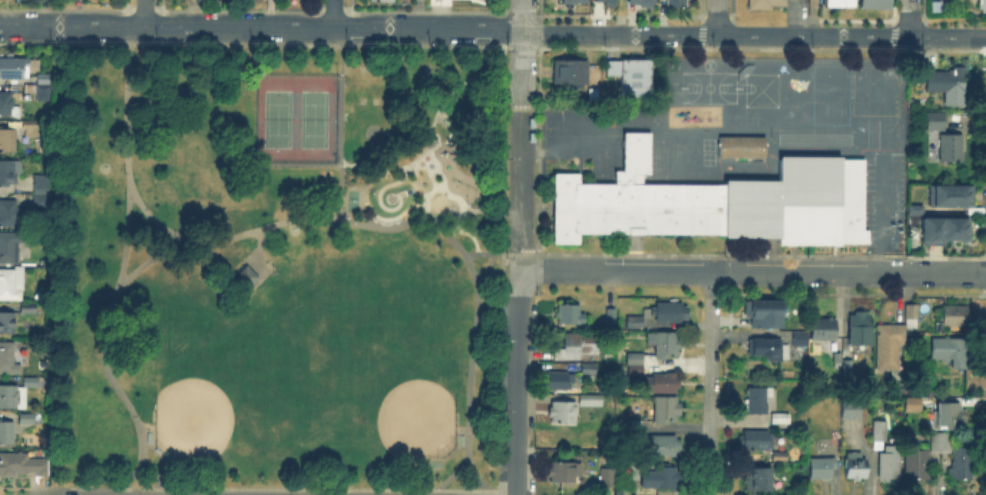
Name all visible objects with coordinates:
building: (575, 2)
building: (605, 2)
building: (641, 2)
building: (835, 2)
building: (872, 2)
building: (677, 3)
building: (766, 4)
building: (983, 7)
road: (145, 13)
road: (334, 14)
road: (523, 16)
road: (621, 17)
road: (717, 18)
road: (814, 18)
road: (910, 18)
road: (358, 28)
road: (765, 36)
road: (861, 37)
road: (948, 37)
building: (16, 68)
road: (522, 71)
building: (571, 73)
building: (637, 79)
building: (946, 82)
building: (40, 87)
road: (341, 93)
building: (7, 106)
road: (442, 116)
park: (298, 118)
building: (936, 122)
building: (35, 129)
building: (8, 141)
building: (743, 148)
building: (952, 149)
road: (453, 164)
building: (9, 173)
road: (412, 181)
road: (521, 182)
road: (341, 188)
building: (42, 192)
building: (949, 196)
building: (711, 203)
building: (913, 208)
building: (8, 215)
road: (314, 217)
road: (159, 223)
building: (940, 229)
building: (9, 248)
road: (257, 251)
road: (492, 253)
park: (274, 266)
road: (485, 269)
road: (122, 270)
road: (616, 270)
road: (849, 271)
road: (520, 272)
building: (246, 274)
building: (11, 283)
building: (30, 308)
building: (670, 313)
building: (764, 314)
building: (570, 315)
building: (609, 315)
building: (911, 317)
building: (953, 318)
building: (635, 322)
building: (7, 324)
building: (862, 330)
building: (825, 331)
building: (802, 339)
park: (339, 344)
road: (472, 346)
building: (578, 346)
building: (664, 346)
building: (890, 346)
building: (771, 351)
building: (949, 352)
building: (8, 358)
building: (849, 358)
building: (635, 366)
building: (589, 369)
building: (558, 381)
building: (661, 383)
road: (710, 383)
building: (31, 384)
road: (519, 386)
building: (12, 399)
building: (592, 400)
building: (759, 400)
building: (913, 405)
park: (197, 406)
park: (401, 406)
building: (858, 410)
building: (666, 411)
building: (563, 413)
building: (780, 417)
building: (949, 418)
building: (27, 420)
building: (880, 432)
building: (6, 434)
building: (758, 440)
building: (665, 446)
building: (780, 457)
building: (955, 457)
building: (890, 462)
building: (919, 465)
building: (24, 466)
building: (856, 467)
building: (822, 469)
building: (565, 472)
road: (156, 475)
building: (661, 478)
building: (611, 479)
building: (758, 481)
road: (518, 488)

